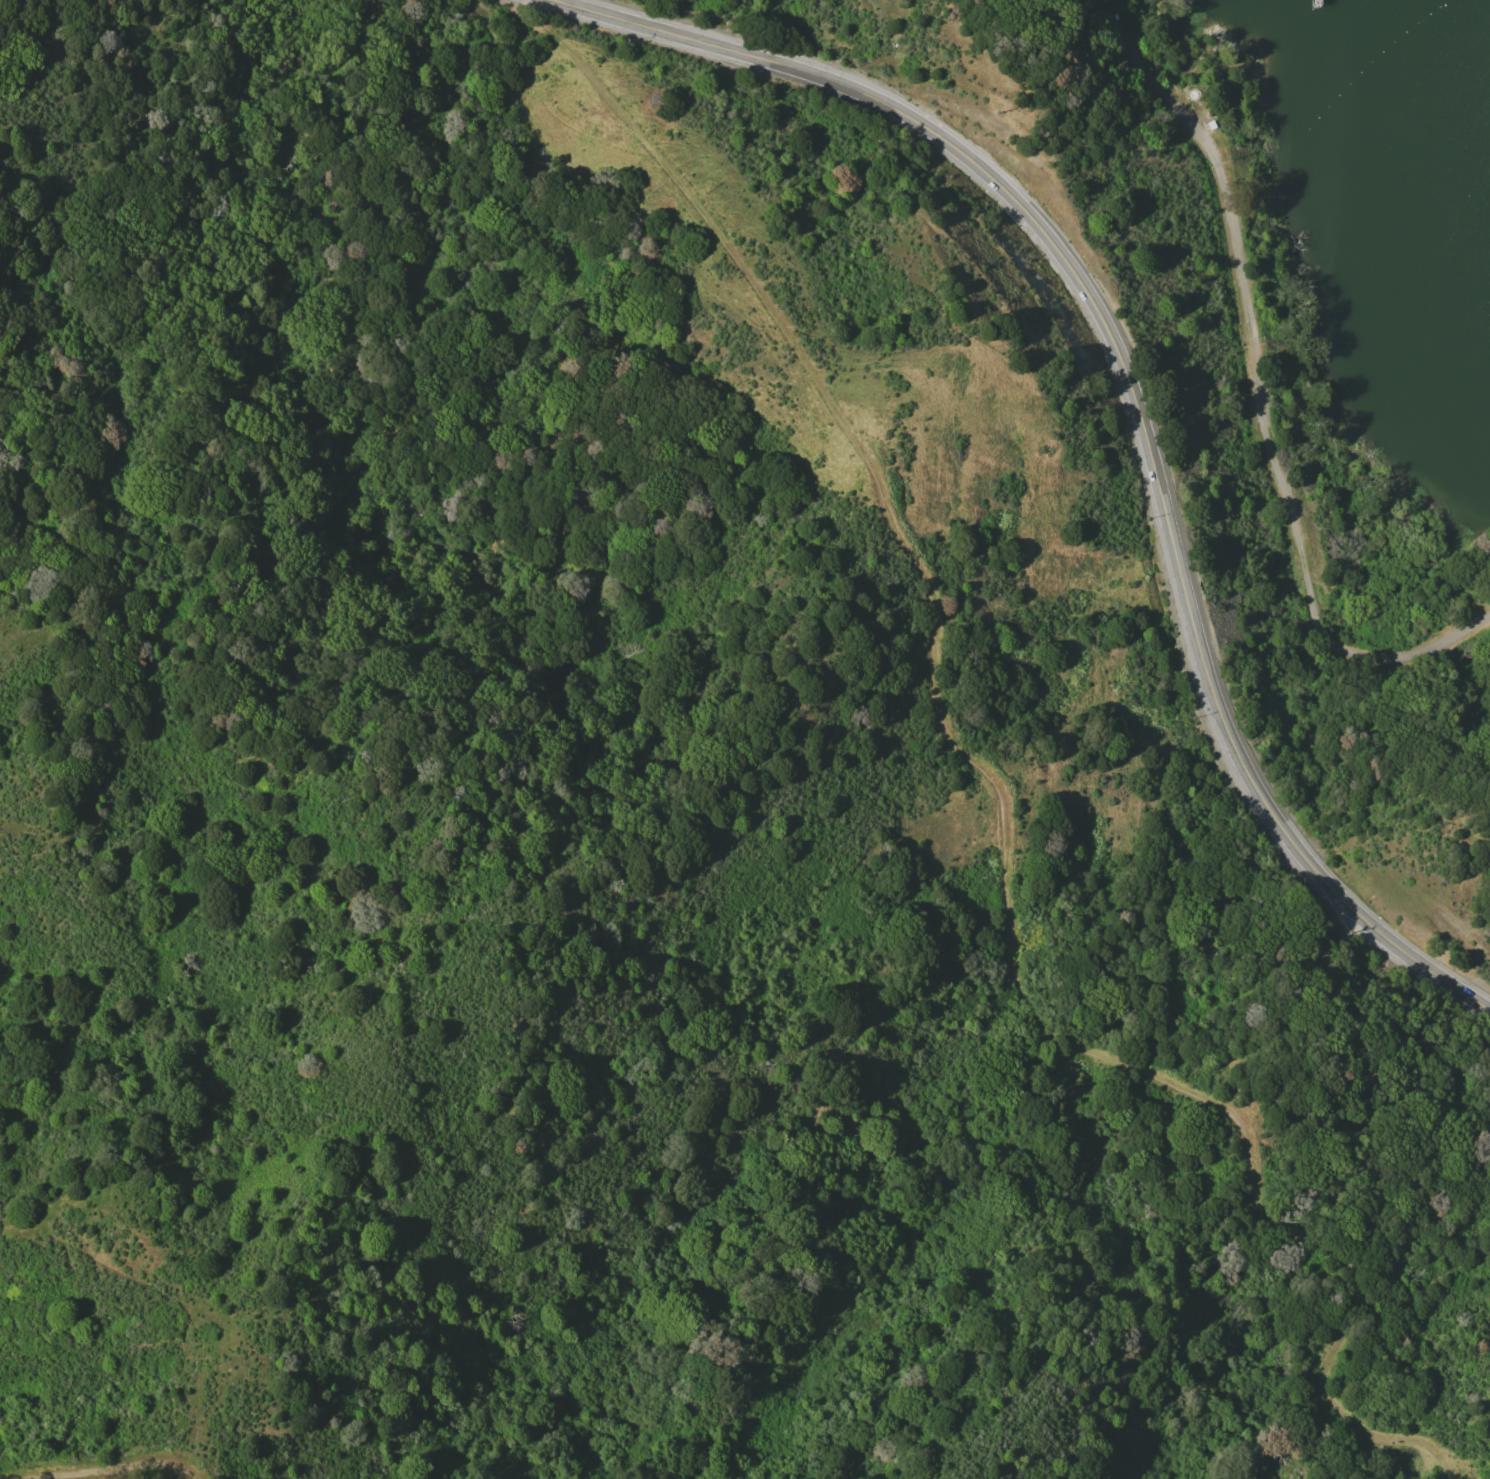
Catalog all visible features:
road: (1226, 197)
road: (1135, 389)
road: (1315, 624)
road: (985, 780)

